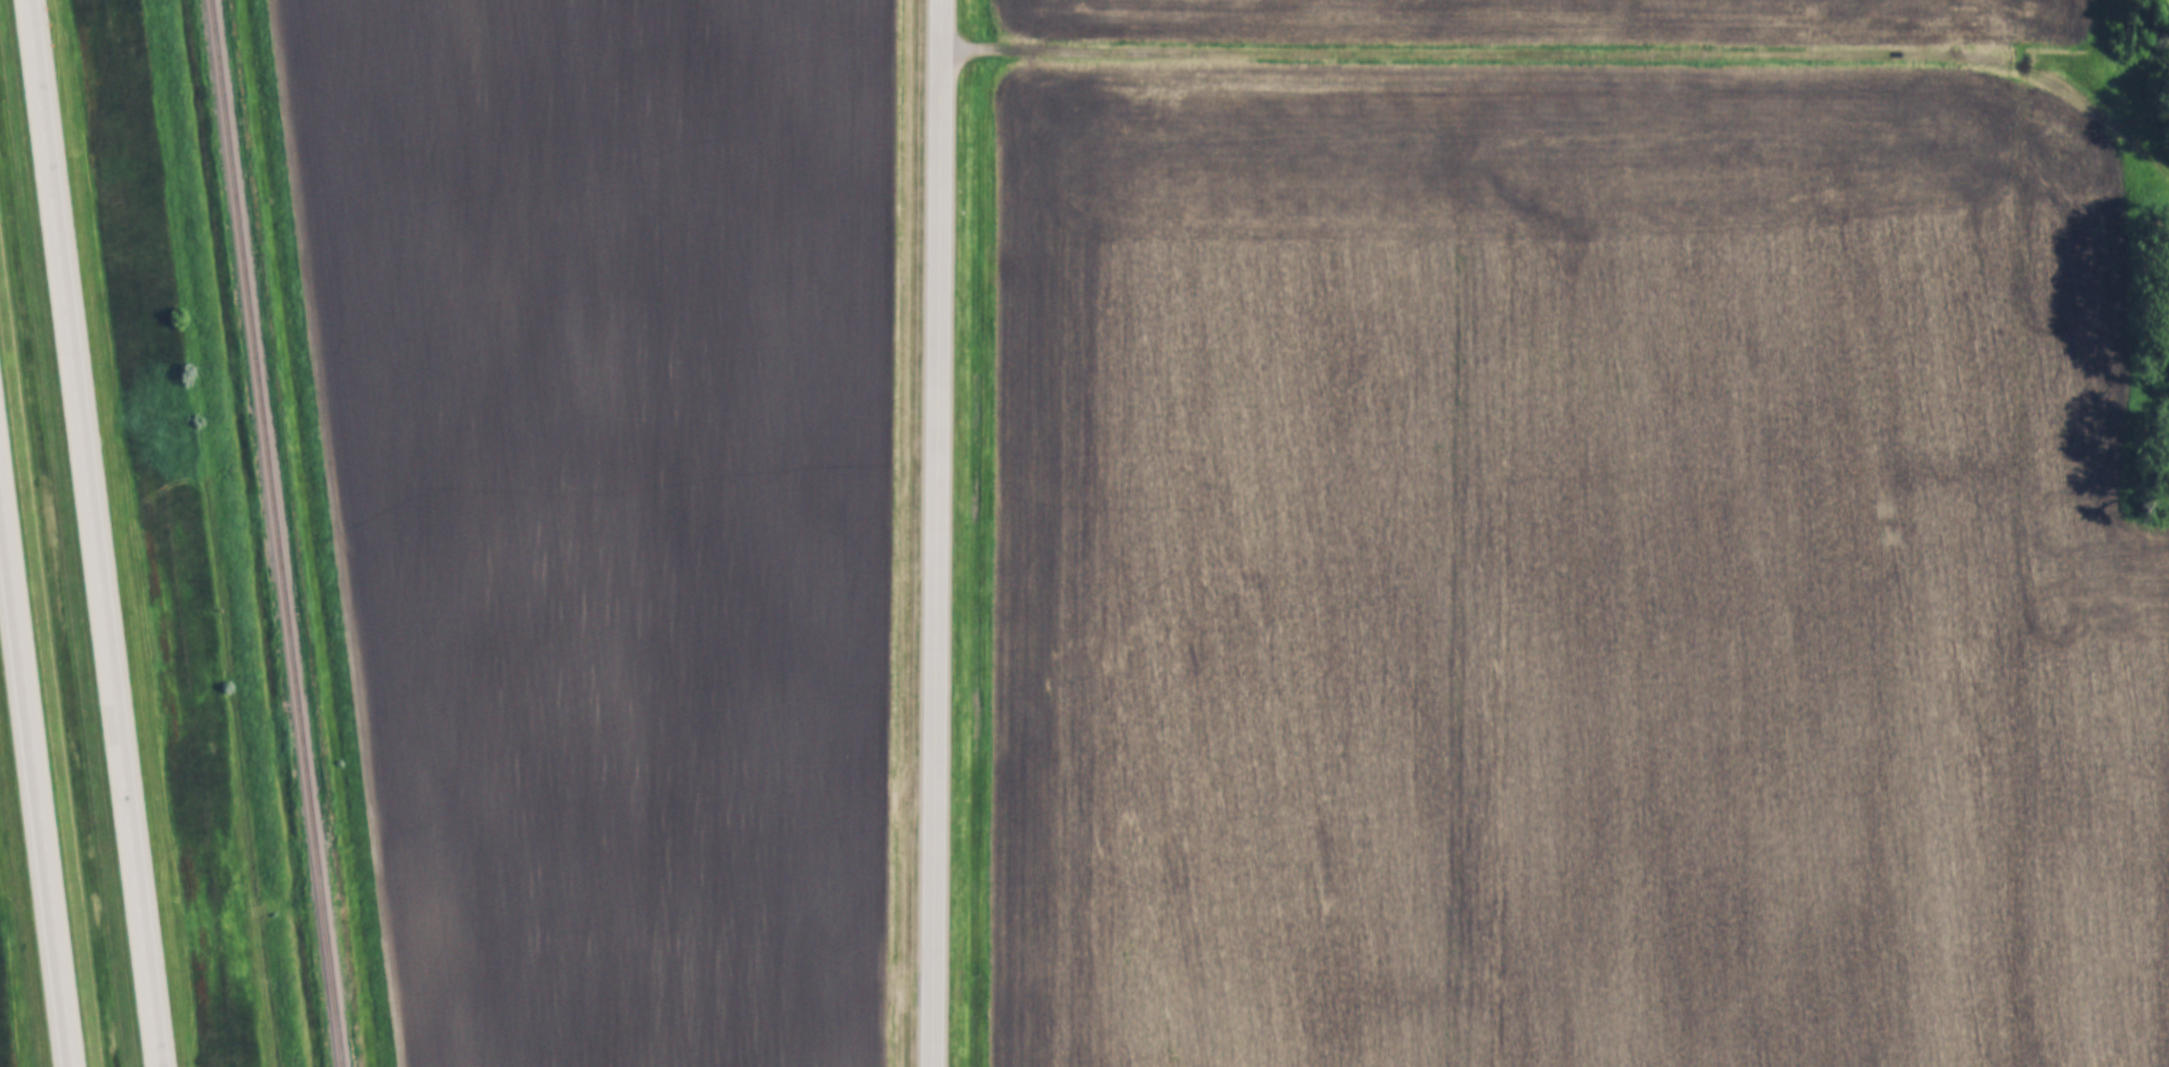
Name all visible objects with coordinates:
road: (1573, 54)
road: (92, 533)
railway: (274, 533)
road: (936, 533)
road: (35, 781)

